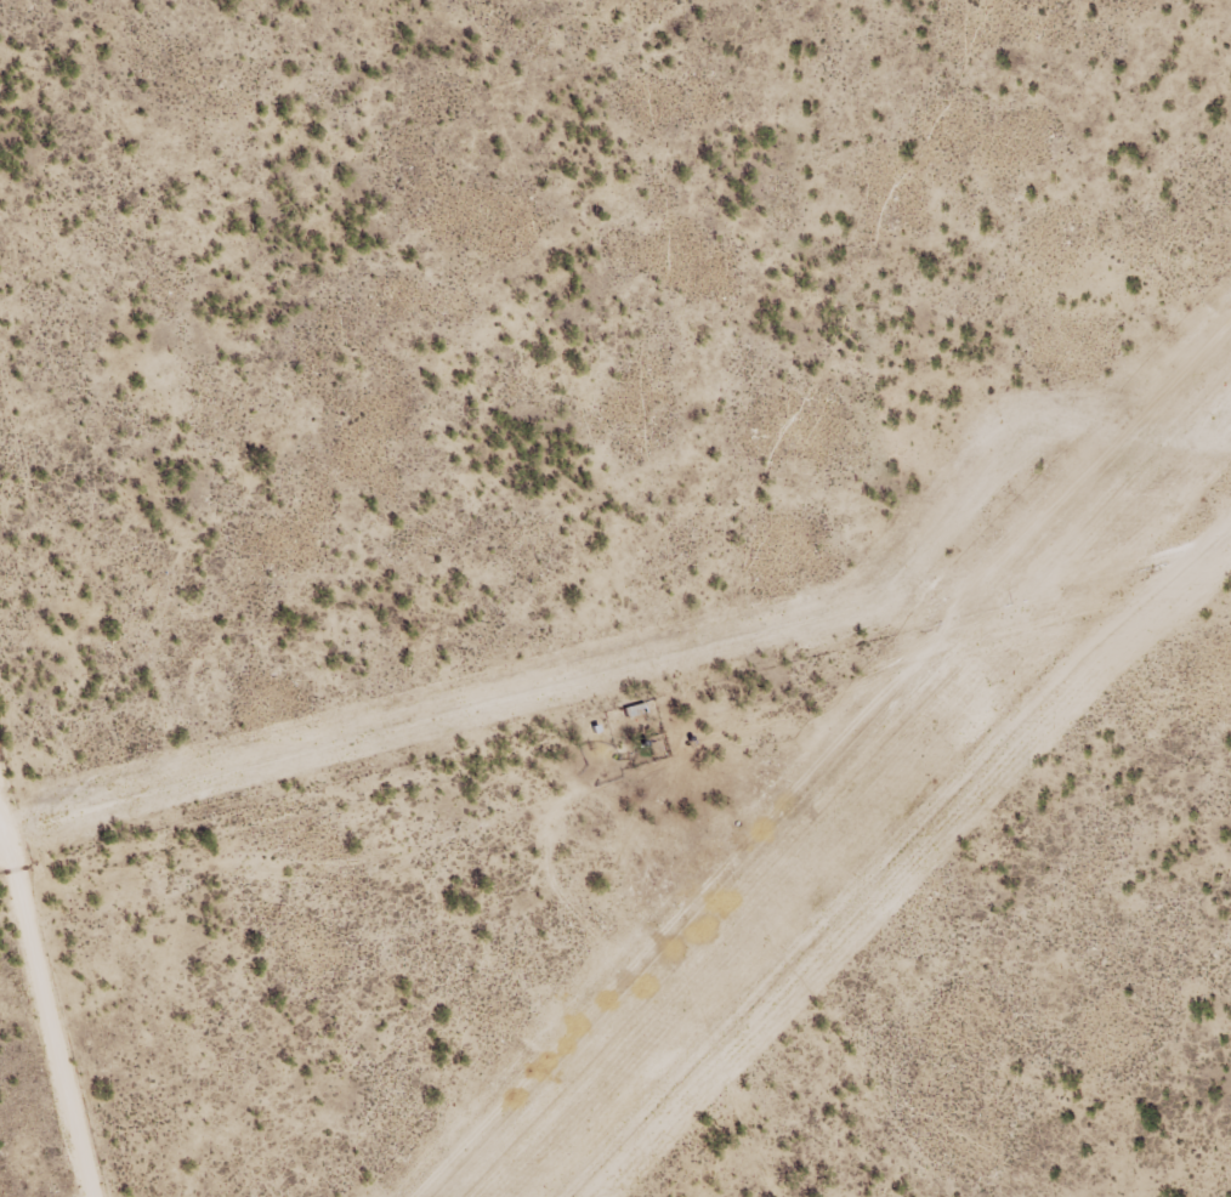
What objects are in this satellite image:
road: (46, 993)

